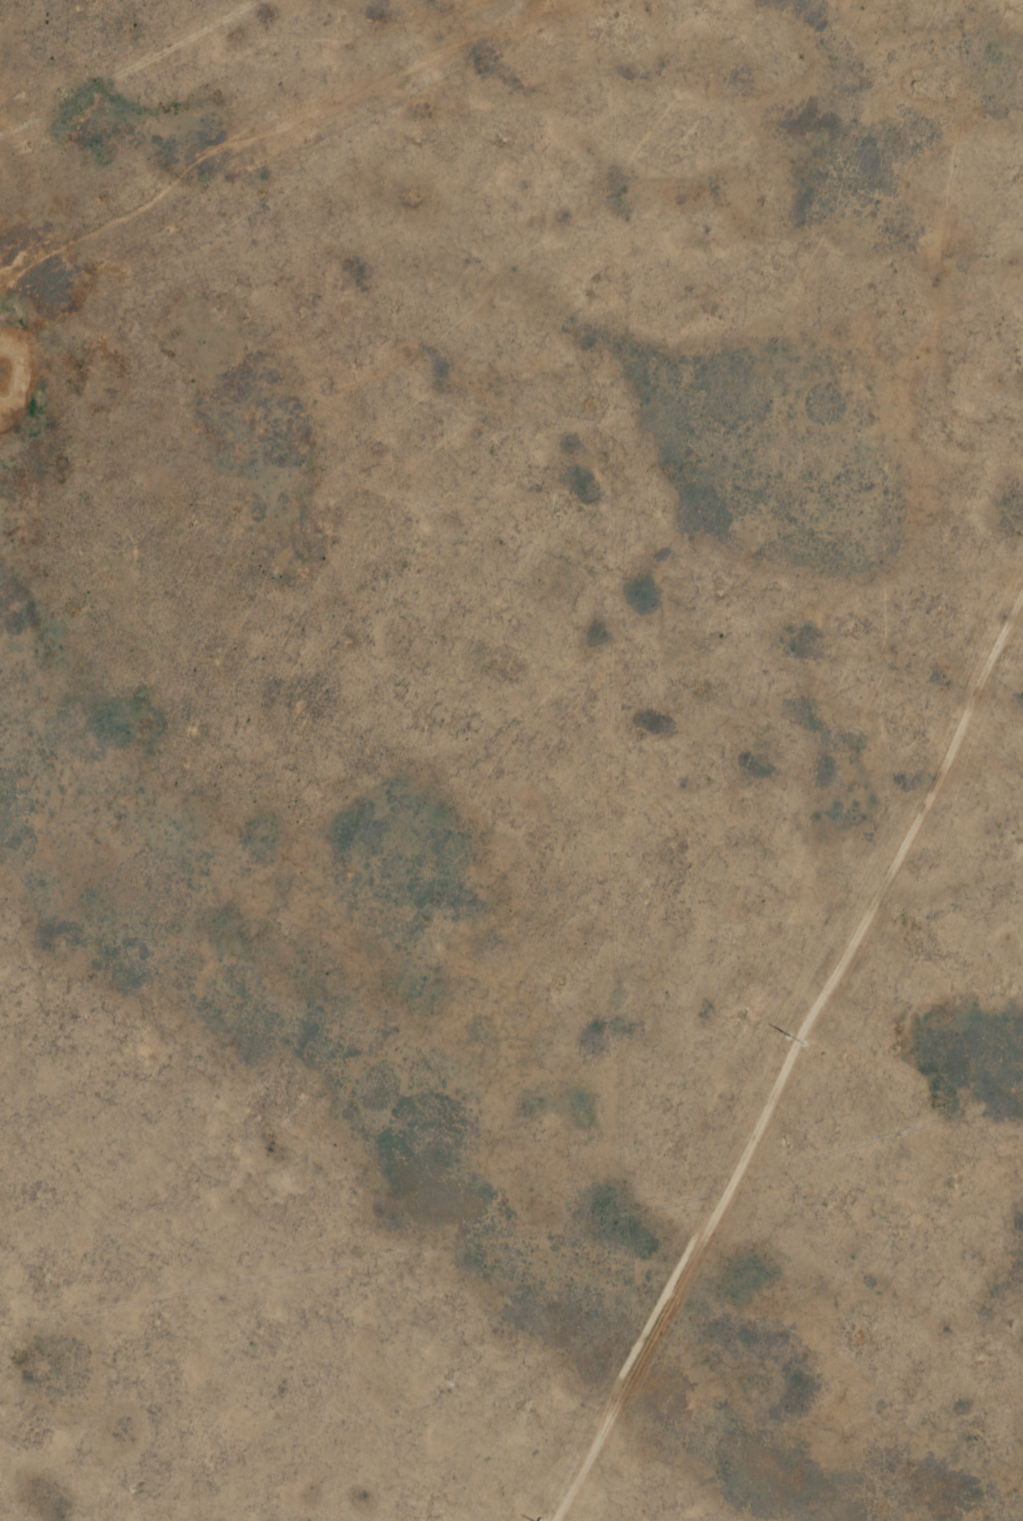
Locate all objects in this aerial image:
power tower: (794, 1038)

